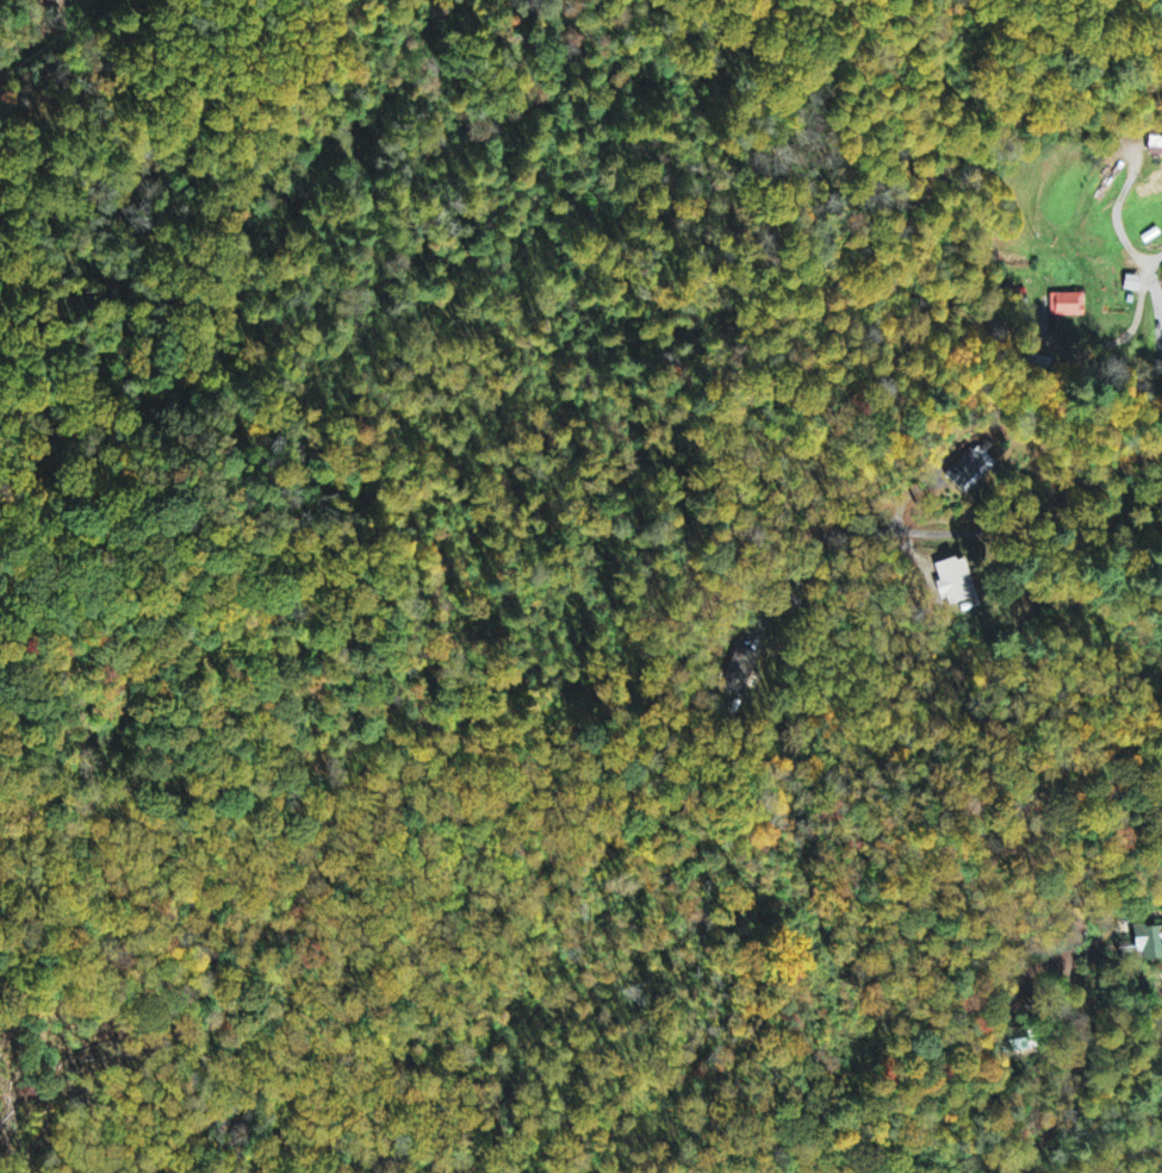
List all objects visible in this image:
road: (1155, 258)
road: (1077, 1068)
road: (286, 1143)

